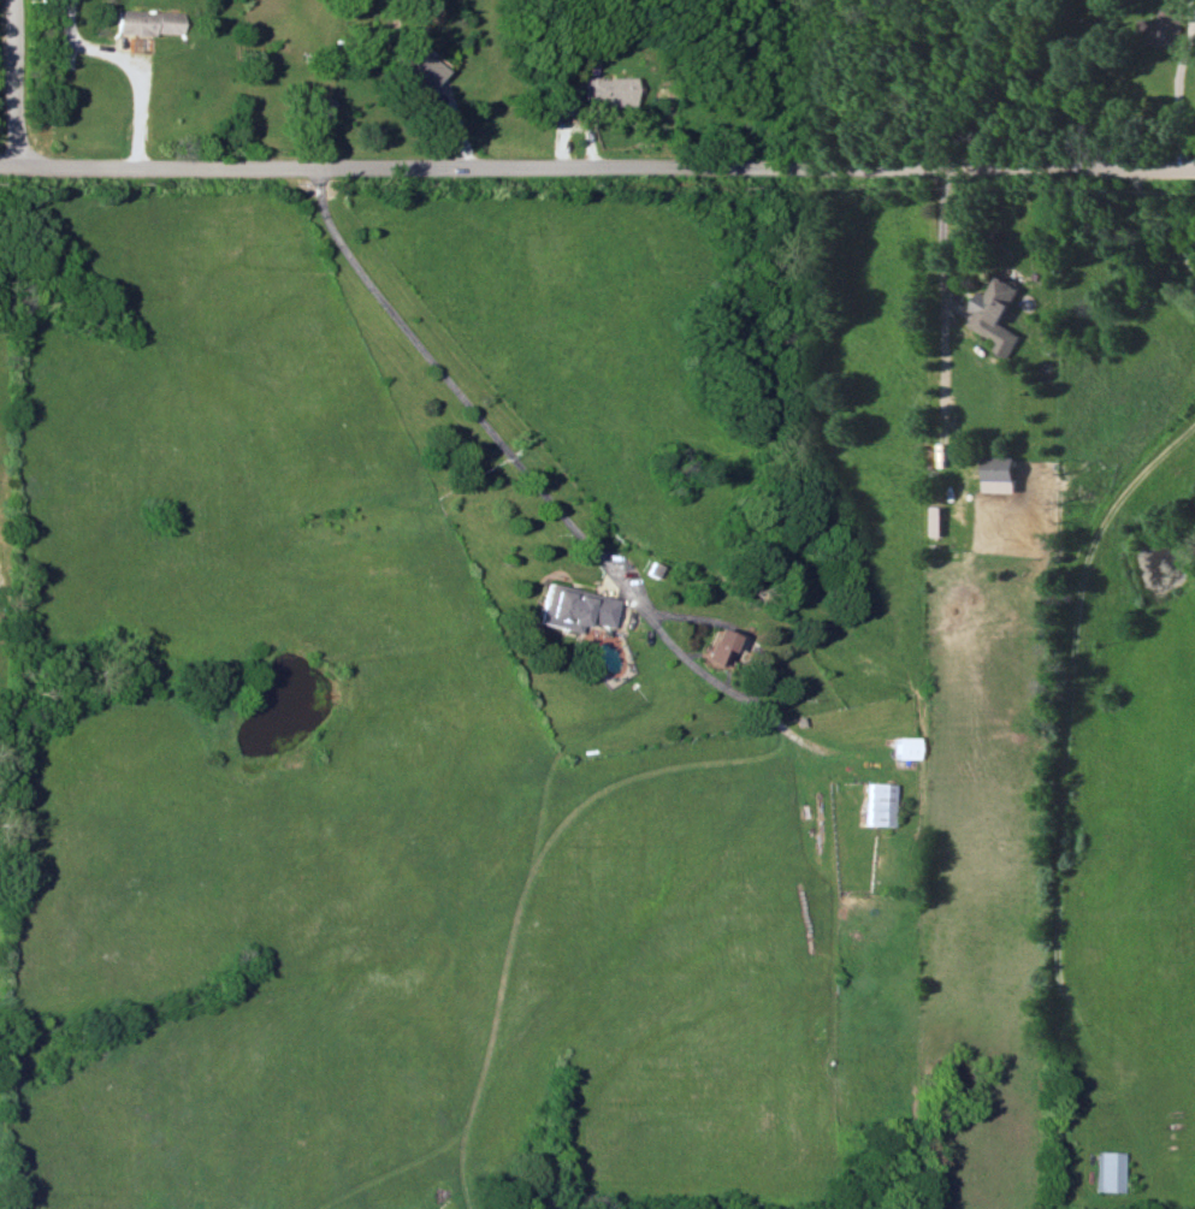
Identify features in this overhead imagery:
building: (146, 22)
building: (1164, 26)
road: (131, 63)
building: (414, 66)
road: (7, 85)
building: (608, 89)
road: (1181, 96)
building: (560, 101)
building: (315, 106)
road: (597, 167)
road: (1163, 219)
road: (941, 310)
building: (995, 314)
building: (996, 474)
road: (567, 518)
building: (573, 609)
building: (715, 647)
building: (899, 747)
road: (1063, 795)
building: (874, 804)
building: (1107, 1171)

